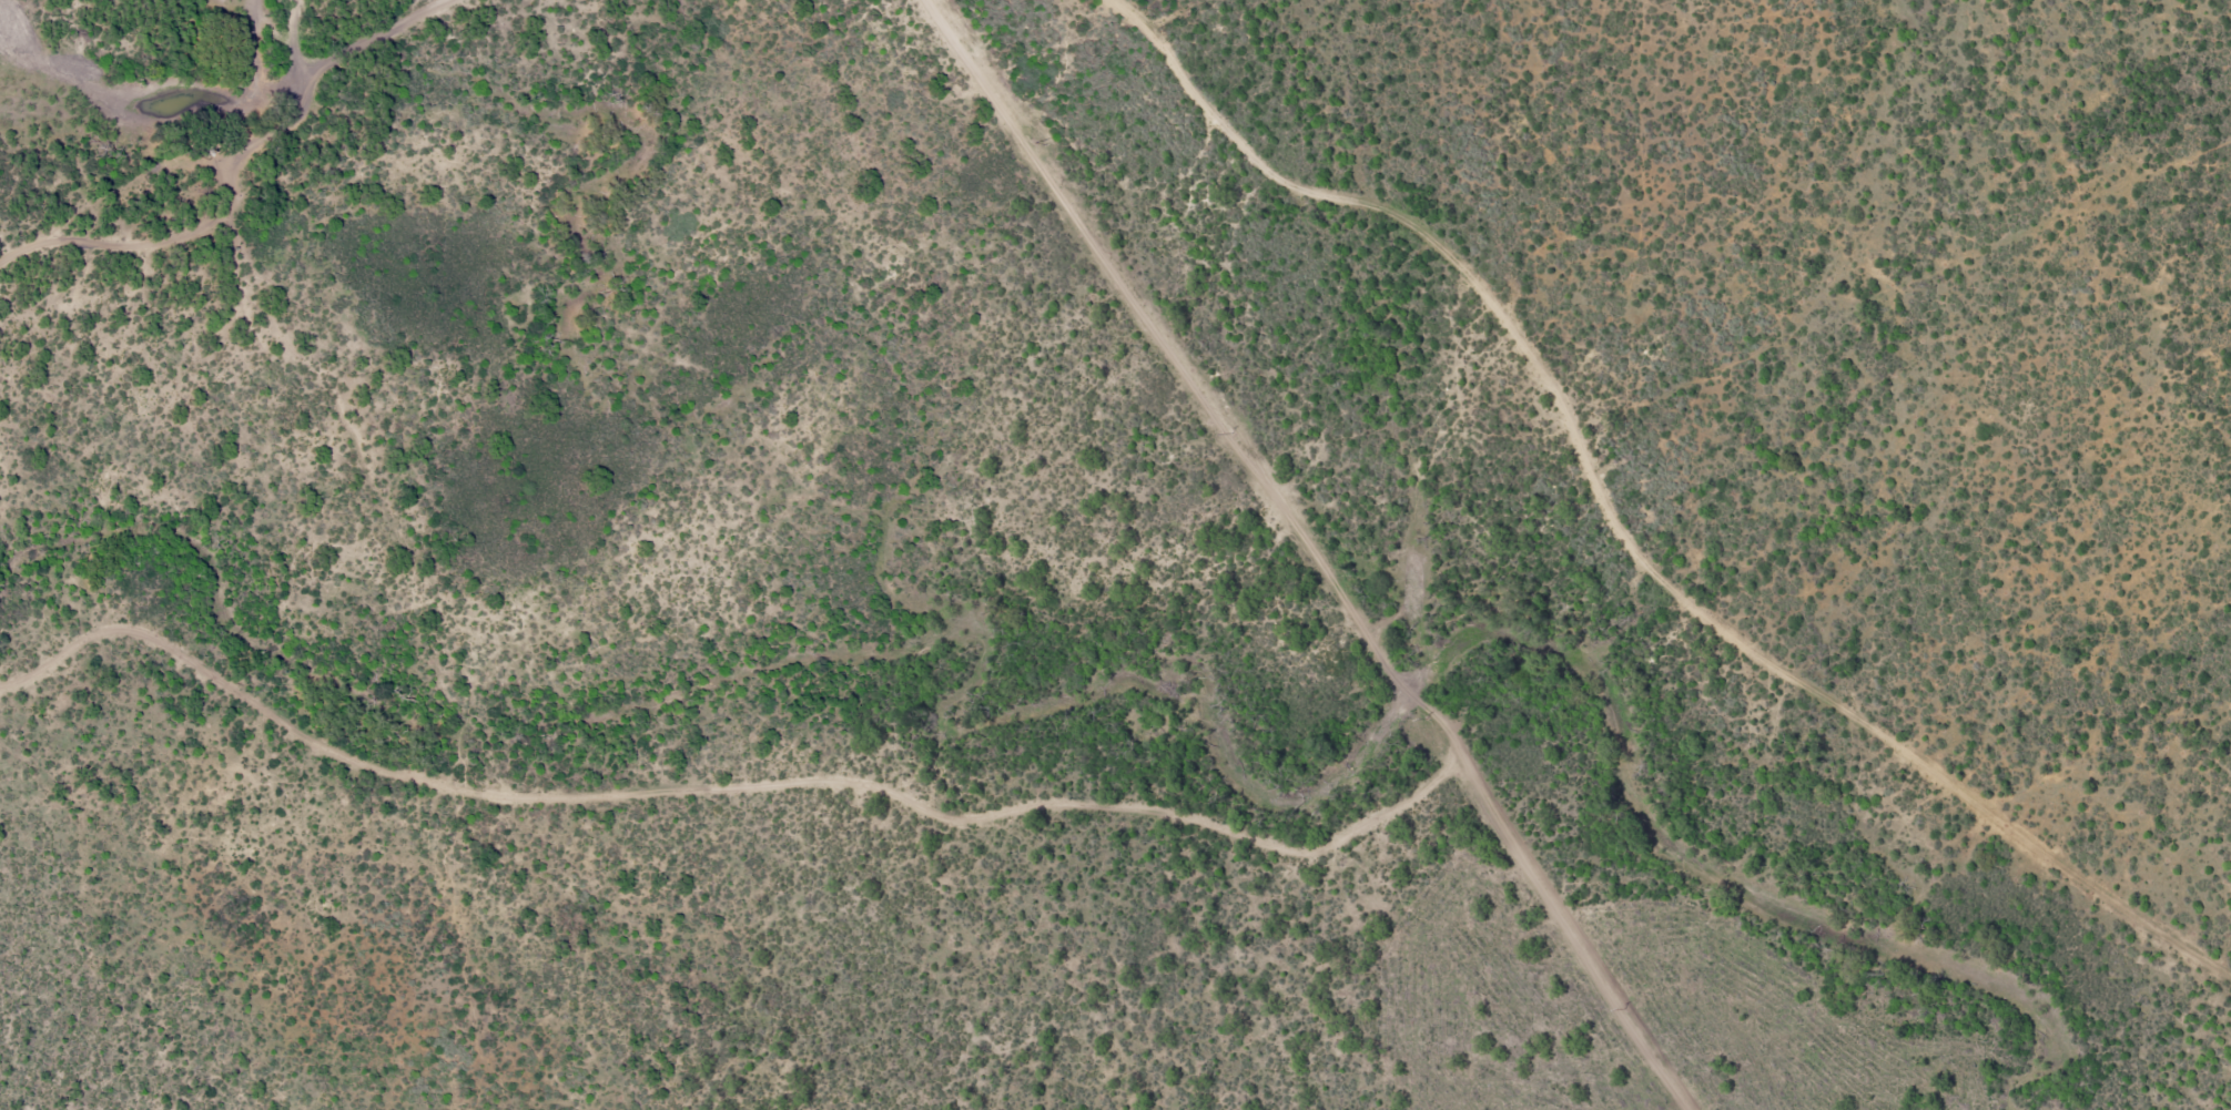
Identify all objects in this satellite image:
road: (378, 57)
road: (305, 64)
power tower: (1034, 143)
power tower: (1233, 434)
road: (1624, 532)
power tower: (1429, 719)
power tower: (1624, 1008)

